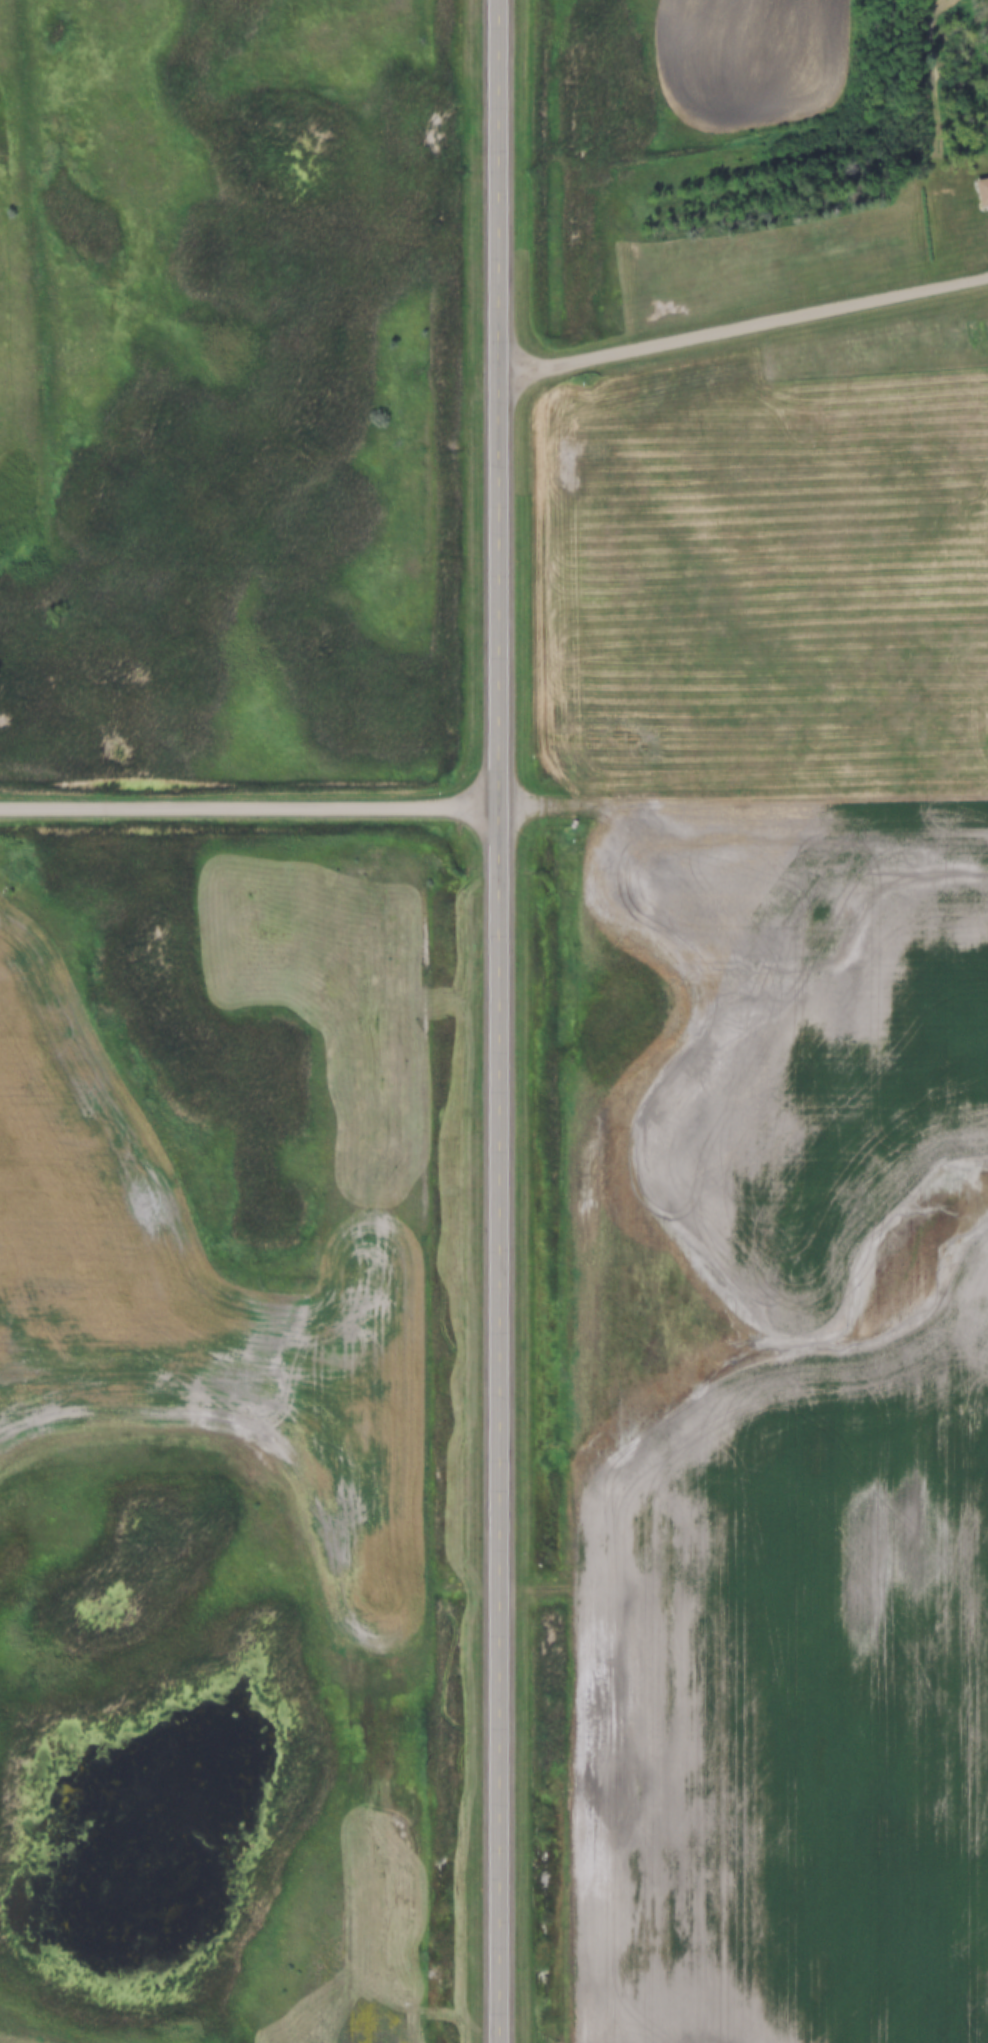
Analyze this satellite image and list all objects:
building: (983, 190)
road: (742, 330)
road: (248, 810)
road: (495, 1021)

